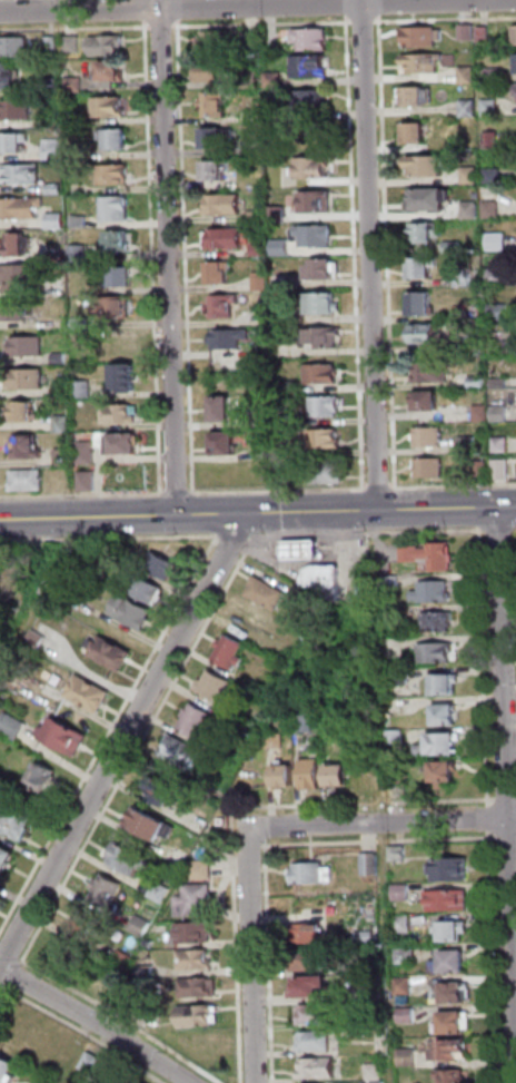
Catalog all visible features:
road: (257, 6)
road: (347, 7)
road: (380, 7)
road: (178, 9)
road: (145, 10)
road: (445, 20)
road: (361, 22)
road: (260, 24)
road: (75, 28)
road: (161, 28)
building: (464, 31)
building: (482, 32)
building: (514, 33)
building: (419, 35)
building: (271, 37)
building: (252, 38)
building: (311, 38)
building: (216, 41)
building: (51, 45)
building: (73, 45)
building: (106, 46)
building: (14, 47)
building: (423, 60)
building: (514, 61)
building: (311, 66)
building: (113, 70)
building: (211, 70)
building: (492, 72)
building: (464, 73)
building: (9, 77)
building: (275, 79)
building: (251, 81)
building: (50, 85)
building: (75, 86)
building: (413, 95)
building: (310, 100)
building: (216, 104)
building: (487, 106)
building: (109, 107)
building: (466, 107)
building: (14, 110)
building: (275, 116)
building: (50, 120)
building: (77, 120)
building: (413, 131)
building: (214, 136)
building: (116, 138)
building: (489, 139)
building: (13, 141)
building: (252, 144)
building: (52, 148)
building: (78, 154)
building: (425, 165)
building: (311, 167)
building: (215, 169)
building: (21, 174)
building: (113, 174)
building: (468, 174)
building: (492, 174)
building: (54, 188)
building: (476, 194)
building: (430, 197)
building: (315, 201)
building: (225, 205)
building: (488, 207)
building: (22, 208)
building: (468, 208)
building: (117, 209)
building: (277, 215)
building: (257, 216)
building: (56, 221)
building: (80, 223)
building: (425, 232)
building: (315, 237)
building: (224, 239)
building: (120, 240)
building: (496, 240)
building: (19, 243)
building: (453, 246)
building: (282, 248)
building: (260, 250)
road: (387, 252)
road: (355, 253)
building: (79, 254)
road: (370, 255)
building: (58, 256)
road: (185, 256)
road: (150, 257)
road: (169, 257)
building: (419, 266)
building: (322, 268)
building: (219, 273)
building: (497, 275)
building: (20, 276)
building: (123, 276)
building: (460, 278)
building: (260, 283)
building: (59, 287)
building: (321, 303)
building: (418, 303)
building: (222, 306)
building: (115, 308)
building: (19, 309)
building: (496, 309)
building: (292, 318)
building: (81, 323)
building: (59, 324)
building: (287, 333)
building: (421, 333)
building: (325, 337)
building: (230, 338)
building: (119, 341)
building: (473, 341)
building: (27, 346)
building: (60, 358)
building: (428, 371)
building: (322, 374)
building: (126, 376)
building: (28, 380)
building: (290, 387)
building: (83, 390)
building: (62, 391)
building: (424, 400)
building: (326, 406)
building: (222, 408)
building: (24, 411)
building: (478, 412)
building: (120, 413)
building: (497, 413)
building: (291, 421)
building: (63, 423)
building: (425, 435)
building: (325, 440)
building: (225, 443)
building: (464, 443)
building: (498, 443)
building: (123, 444)
building: (27, 446)
building: (87, 452)
building: (265, 453)
building: (63, 456)
building: (478, 465)
building: (426, 466)
building: (497, 467)
building: (287, 472)
building: (327, 472)
building: (28, 480)
building: (88, 481)
road: (370, 483)
road: (385, 483)
road: (394, 483)
road: (456, 485)
road: (276, 491)
road: (176, 492)
road: (82, 495)
road: (396, 498)
road: (364, 500)
road: (193, 504)
road: (507, 505)
road: (249, 513)
road: (506, 530)
road: (515, 530)
road: (216, 547)
building: (301, 549)
road: (220, 550)
building: (430, 557)
building: (160, 564)
building: (326, 579)
building: (148, 588)
building: (434, 591)
building: (266, 593)
building: (132, 611)
building: (438, 621)
building: (37, 639)
road: (161, 640)
building: (110, 651)
building: (230, 651)
building: (435, 652)
building: (399, 679)
building: (14, 683)
building: (446, 683)
building: (216, 687)
building: (88, 693)
building: (446, 712)
building: (197, 721)
building: (248, 721)
building: (305, 722)
building: (12, 725)
building: (395, 738)
road: (121, 740)
building: (275, 740)
building: (60, 741)
building: (440, 744)
building: (220, 750)
building: (183, 752)
building: (443, 771)
road: (507, 772)
building: (311, 774)
building: (284, 775)
building: (338, 775)
building: (397, 775)
building: (44, 777)
building: (162, 789)
road: (506, 799)
road: (246, 811)
road: (234, 814)
building: (17, 819)
road: (381, 821)
building: (148, 823)
road: (488, 825)
road: (256, 827)
road: (507, 838)
road: (380, 843)
road: (251, 846)
road: (237, 847)
building: (398, 853)
building: (4, 857)
building: (123, 857)
building: (370, 864)
building: (204, 869)
building: (450, 869)
building: (311, 874)
building: (158, 890)
building: (108, 893)
building: (401, 893)
building: (196, 899)
building: (448, 900)
building: (374, 912)
building: (86, 924)
building: (404, 924)
building: (140, 925)
building: (455, 929)
building: (196, 932)
building: (307, 933)
building: (365, 937)
building: (150, 944)
road: (3, 951)
road: (252, 954)
building: (407, 955)
road: (493, 956)
building: (193, 958)
building: (310, 959)
building: (125, 961)
road: (270, 961)
building: (450, 962)
building: (373, 963)
building: (146, 969)
road: (11, 982)
building: (309, 985)
building: (196, 986)
building: (405, 986)
road: (1, 988)
building: (374, 988)
building: (454, 992)
road: (3, 994)
building: (316, 1013)
building: (195, 1015)
building: (406, 1015)
road: (97, 1022)
building: (454, 1022)
road: (86, 1032)
building: (317, 1041)
building: (451, 1050)
building: (407, 1057)
building: (91, 1062)
building: (319, 1067)
building: (7, 1069)
building: (375, 1071)
building: (453, 1076)
building: (377, 1082)

